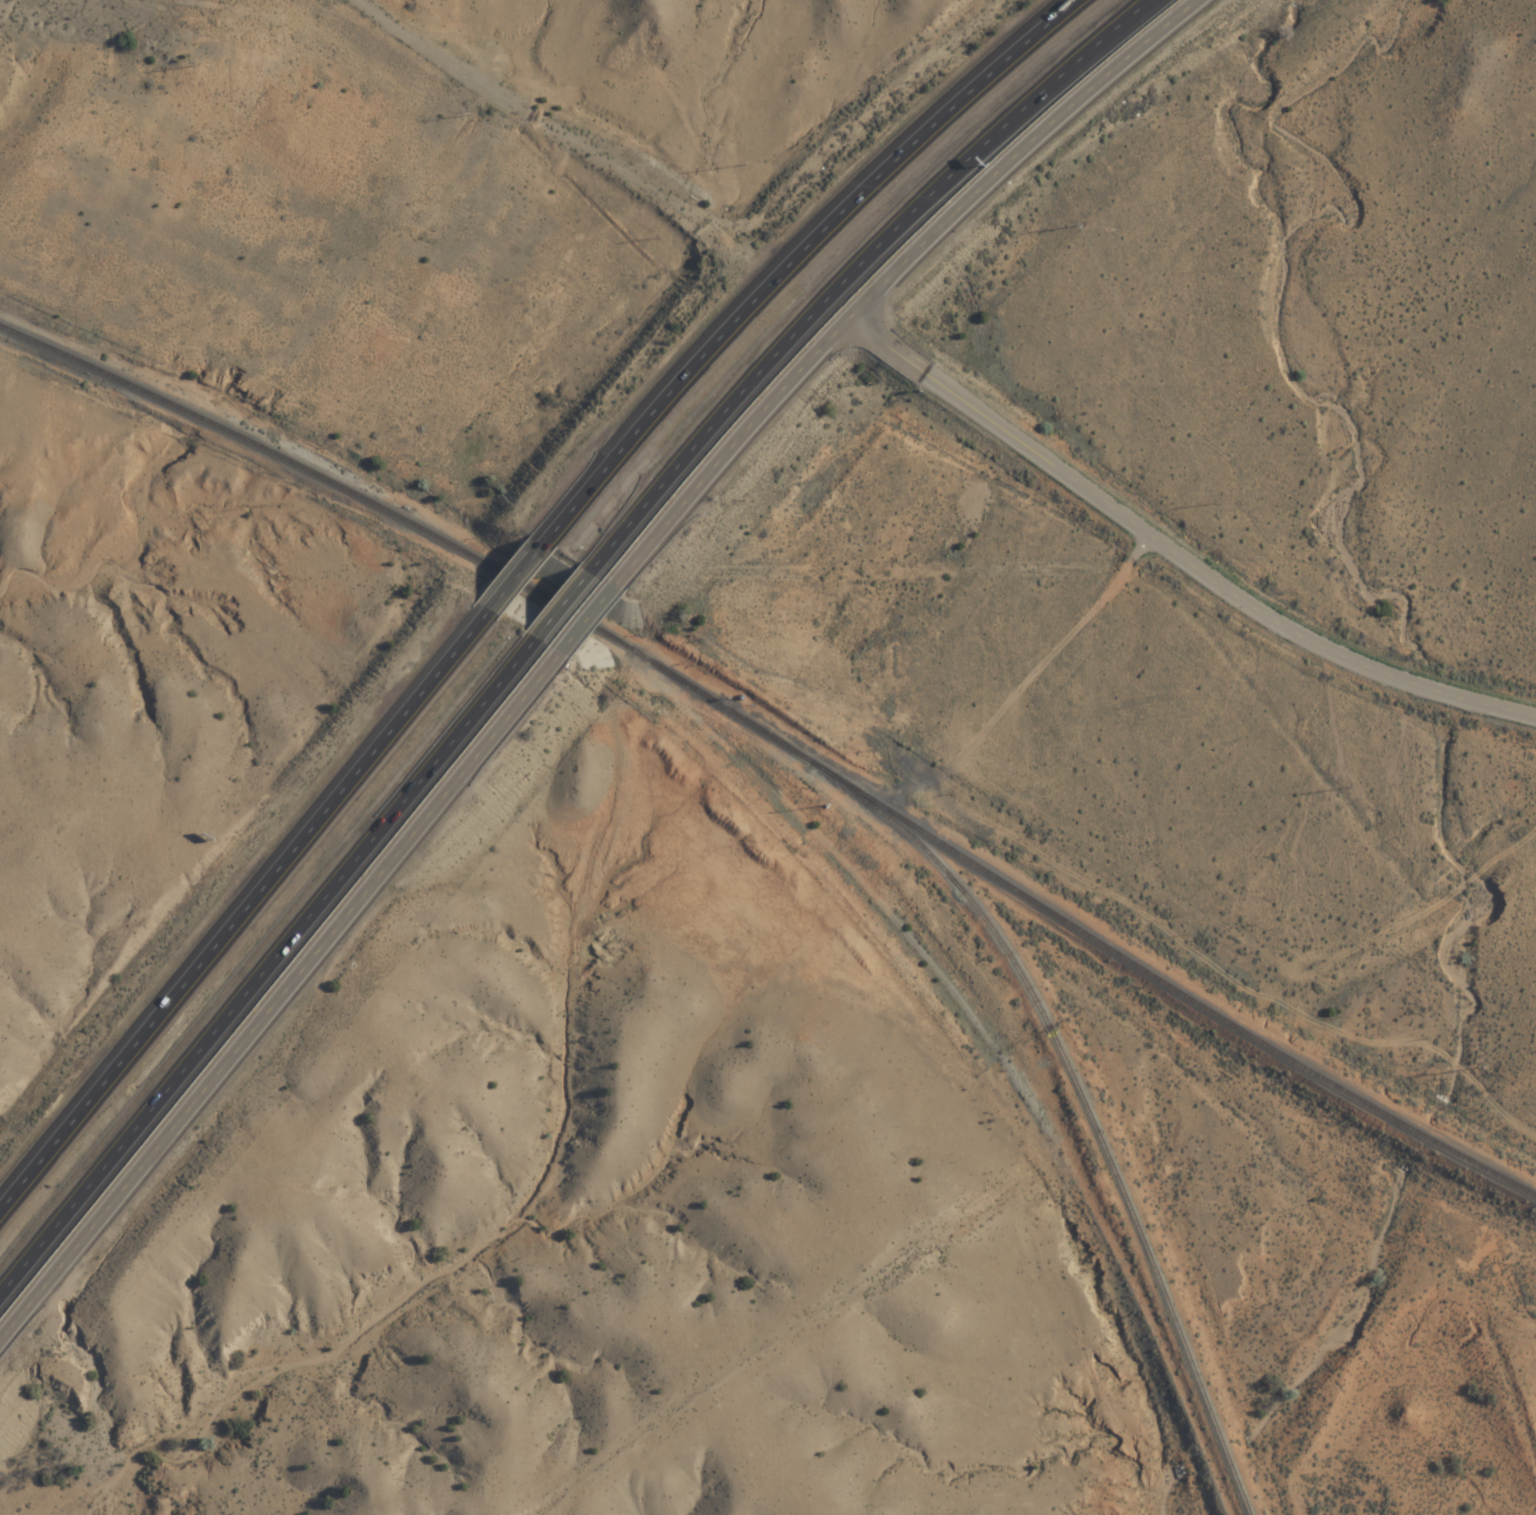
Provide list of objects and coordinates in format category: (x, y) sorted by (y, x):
road: (441, 51)
road: (805, 264)
road: (893, 273)
road: (868, 278)
railway: (352, 493)
road: (1175, 553)
road: (518, 590)
road: (568, 616)
road: (588, 621)
road: (445, 796)
road: (245, 921)
railway: (1108, 948)
road: (271, 977)
railway: (1084, 1104)
road: (168, 1134)

